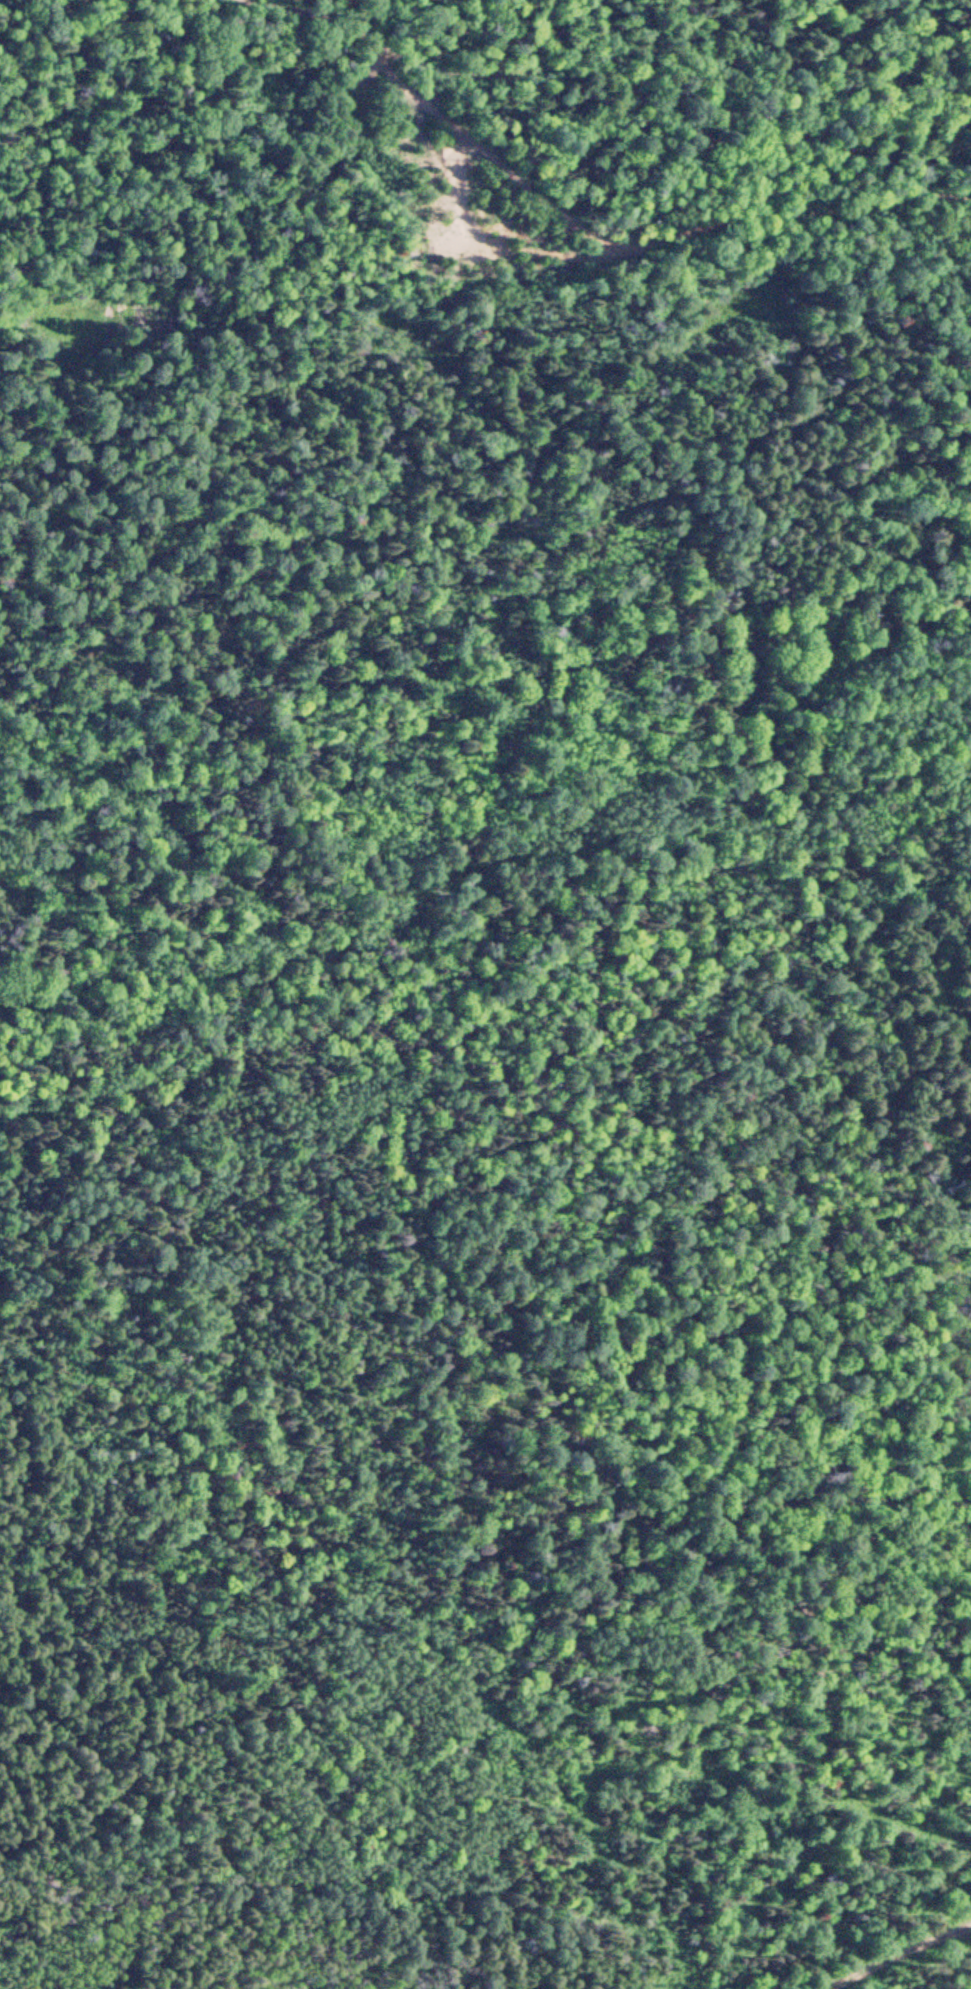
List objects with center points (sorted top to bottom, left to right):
road: (541, 253)
road: (899, 1956)

